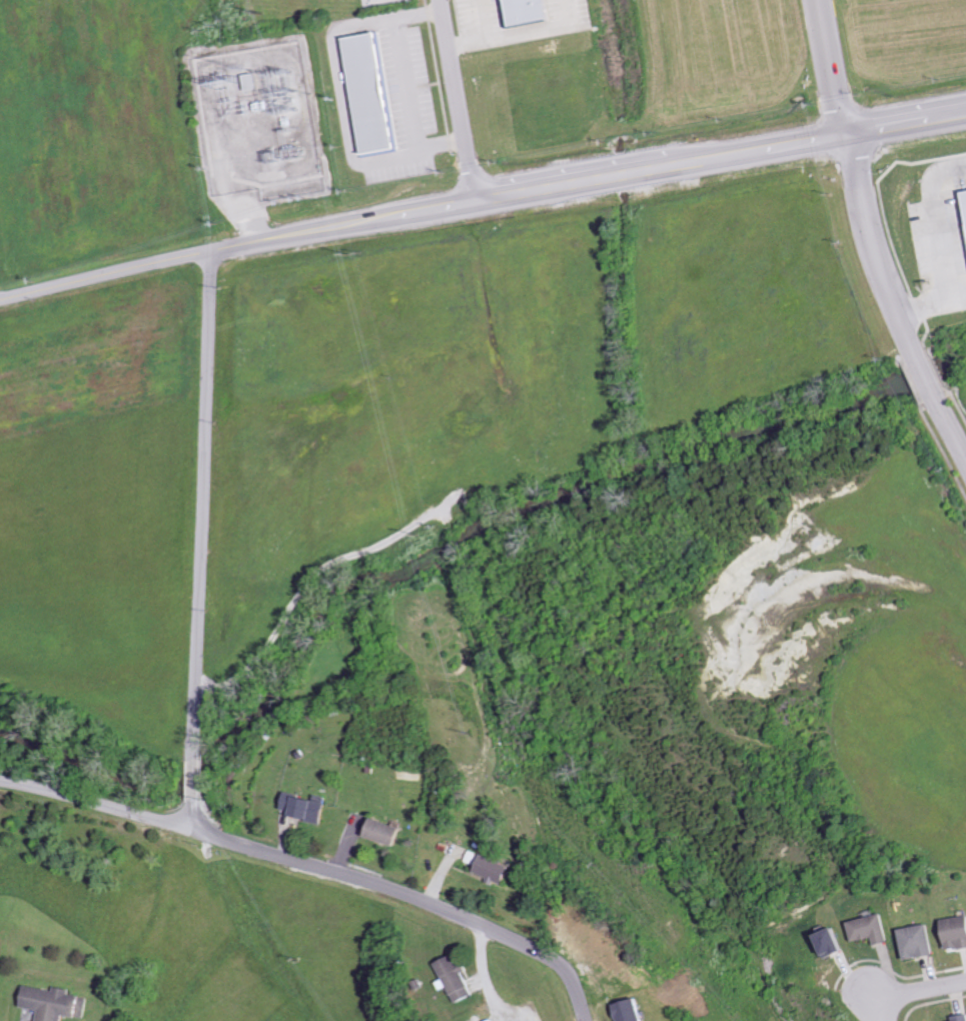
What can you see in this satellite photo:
building: (531, 12)
road: (831, 68)
building: (374, 93)
road: (460, 99)
power substation: (253, 117)
road: (480, 198)
road: (875, 248)
road: (924, 377)
road: (949, 431)
road: (202, 505)
road: (191, 778)
road: (90, 803)
building: (308, 807)
road: (185, 812)
building: (389, 832)
building: (494, 870)
road: (403, 894)
building: (868, 930)
building: (953, 933)
building: (826, 942)
building: (915, 942)
building: (460, 980)
road: (908, 992)
building: (57, 1003)
building: (623, 1011)
building: (958, 1018)
building: (499, 1020)

